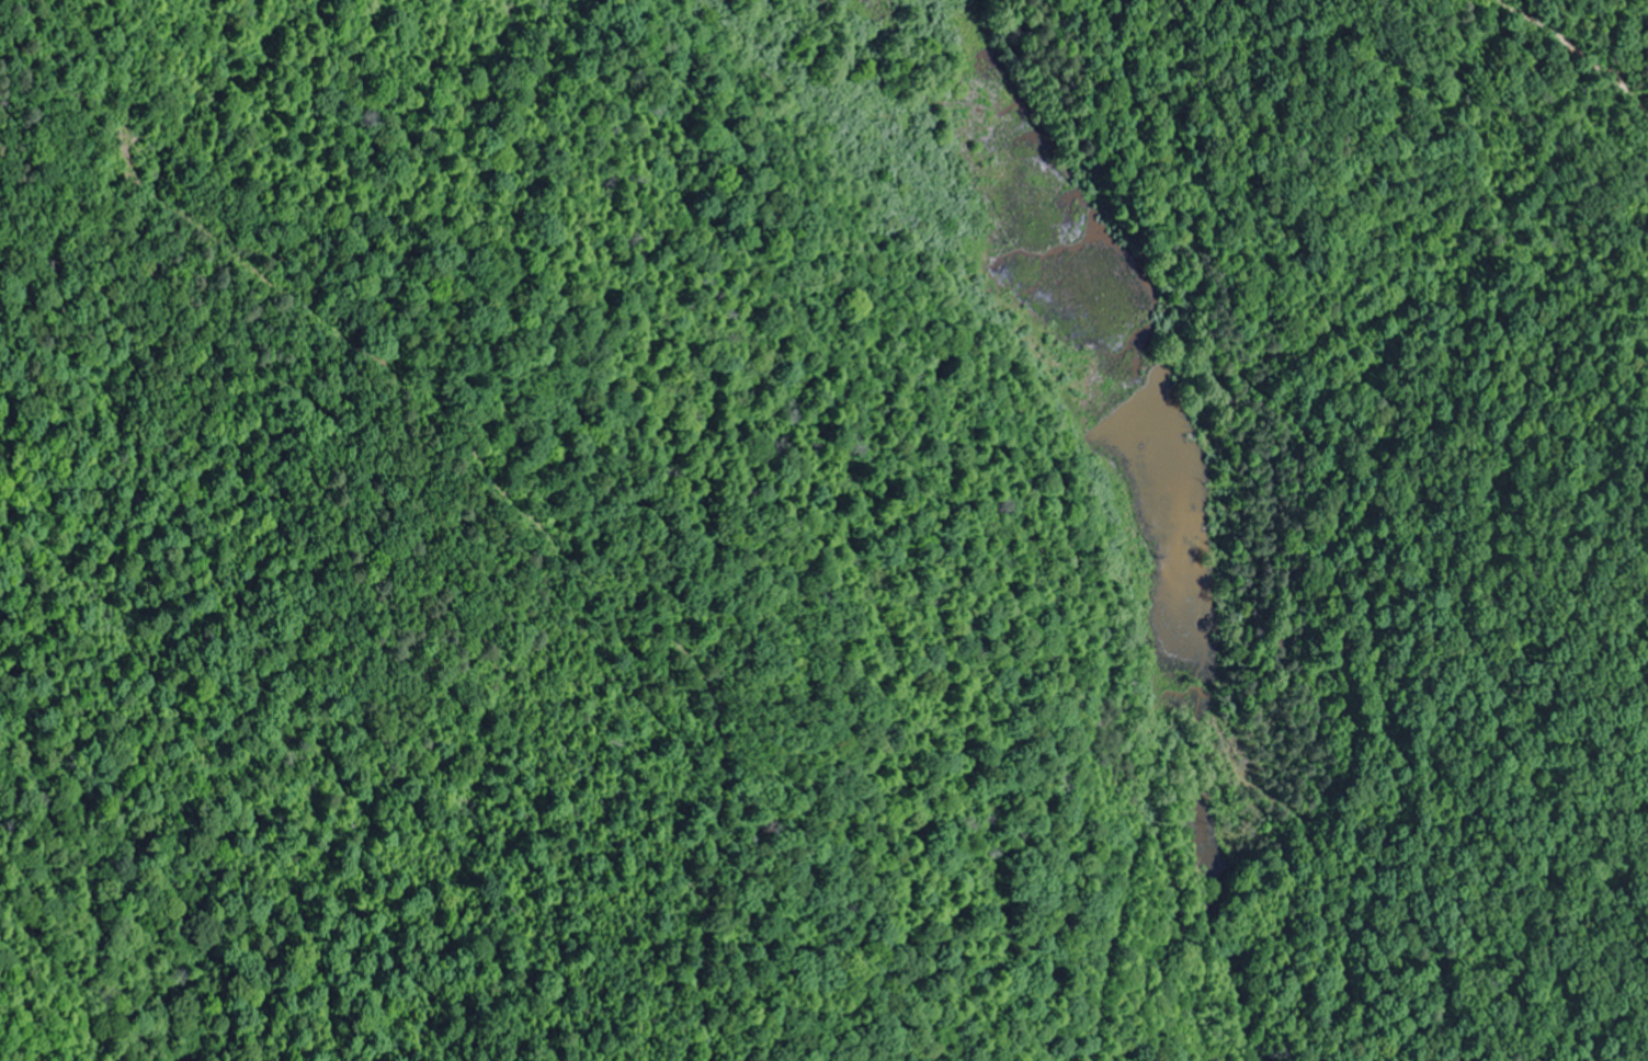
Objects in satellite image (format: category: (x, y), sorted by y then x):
road: (1605, 62)

